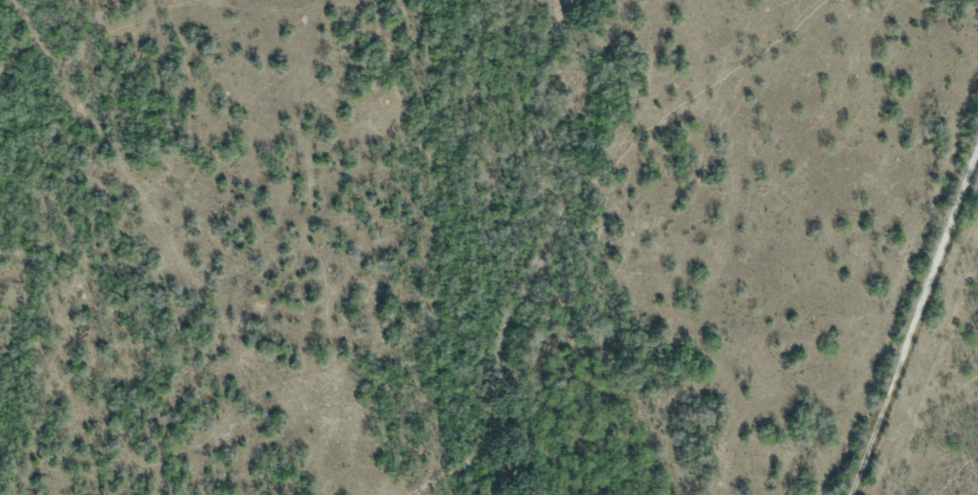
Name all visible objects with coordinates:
road: (912, 313)

